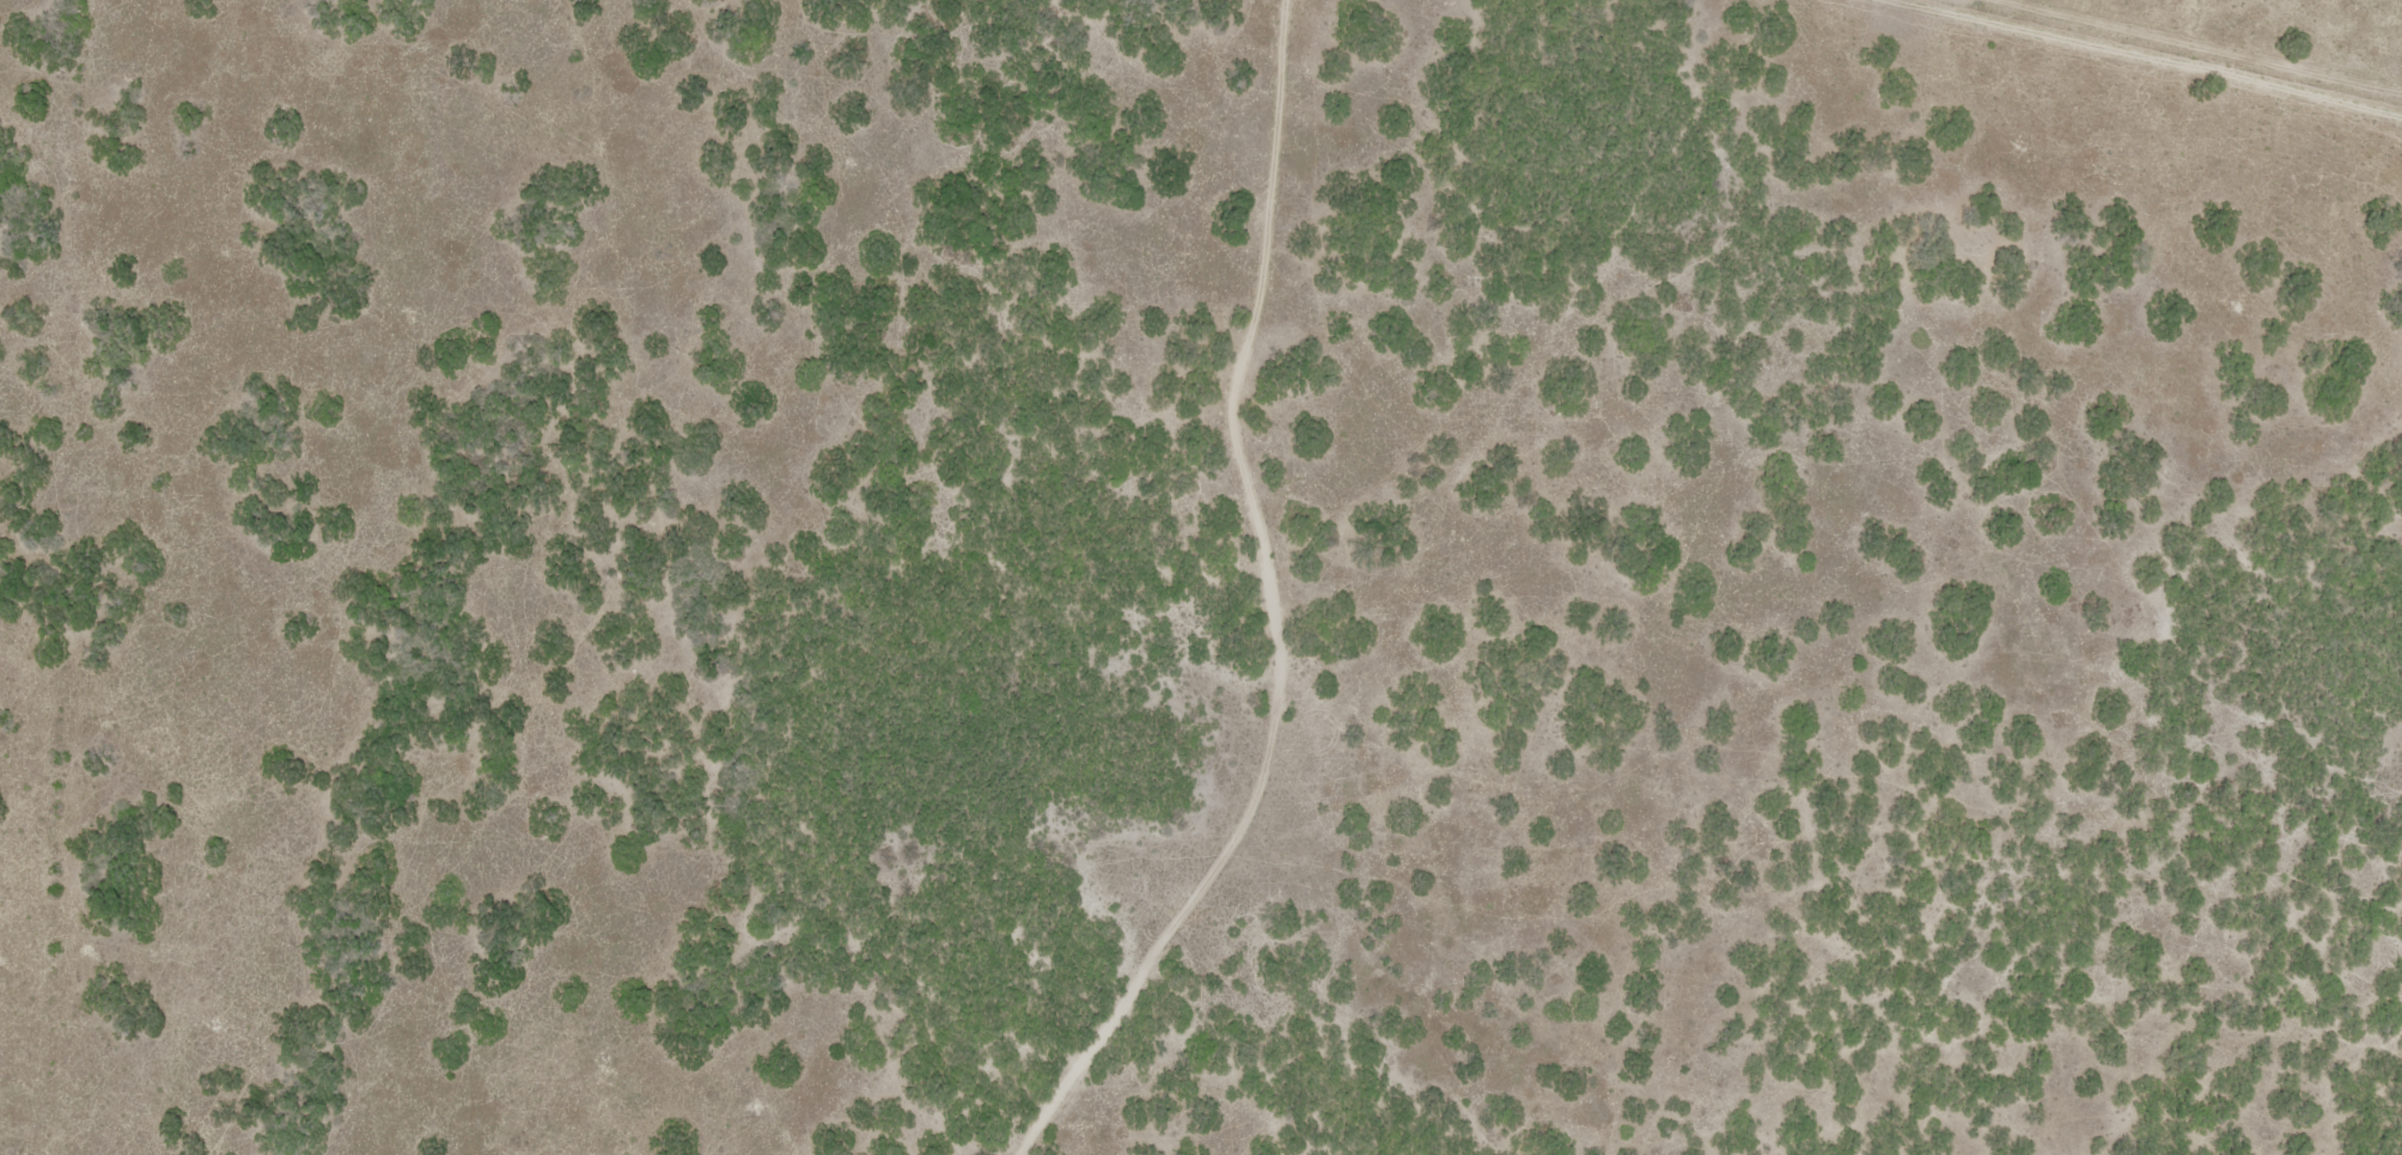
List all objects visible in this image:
road: (650, 586)

